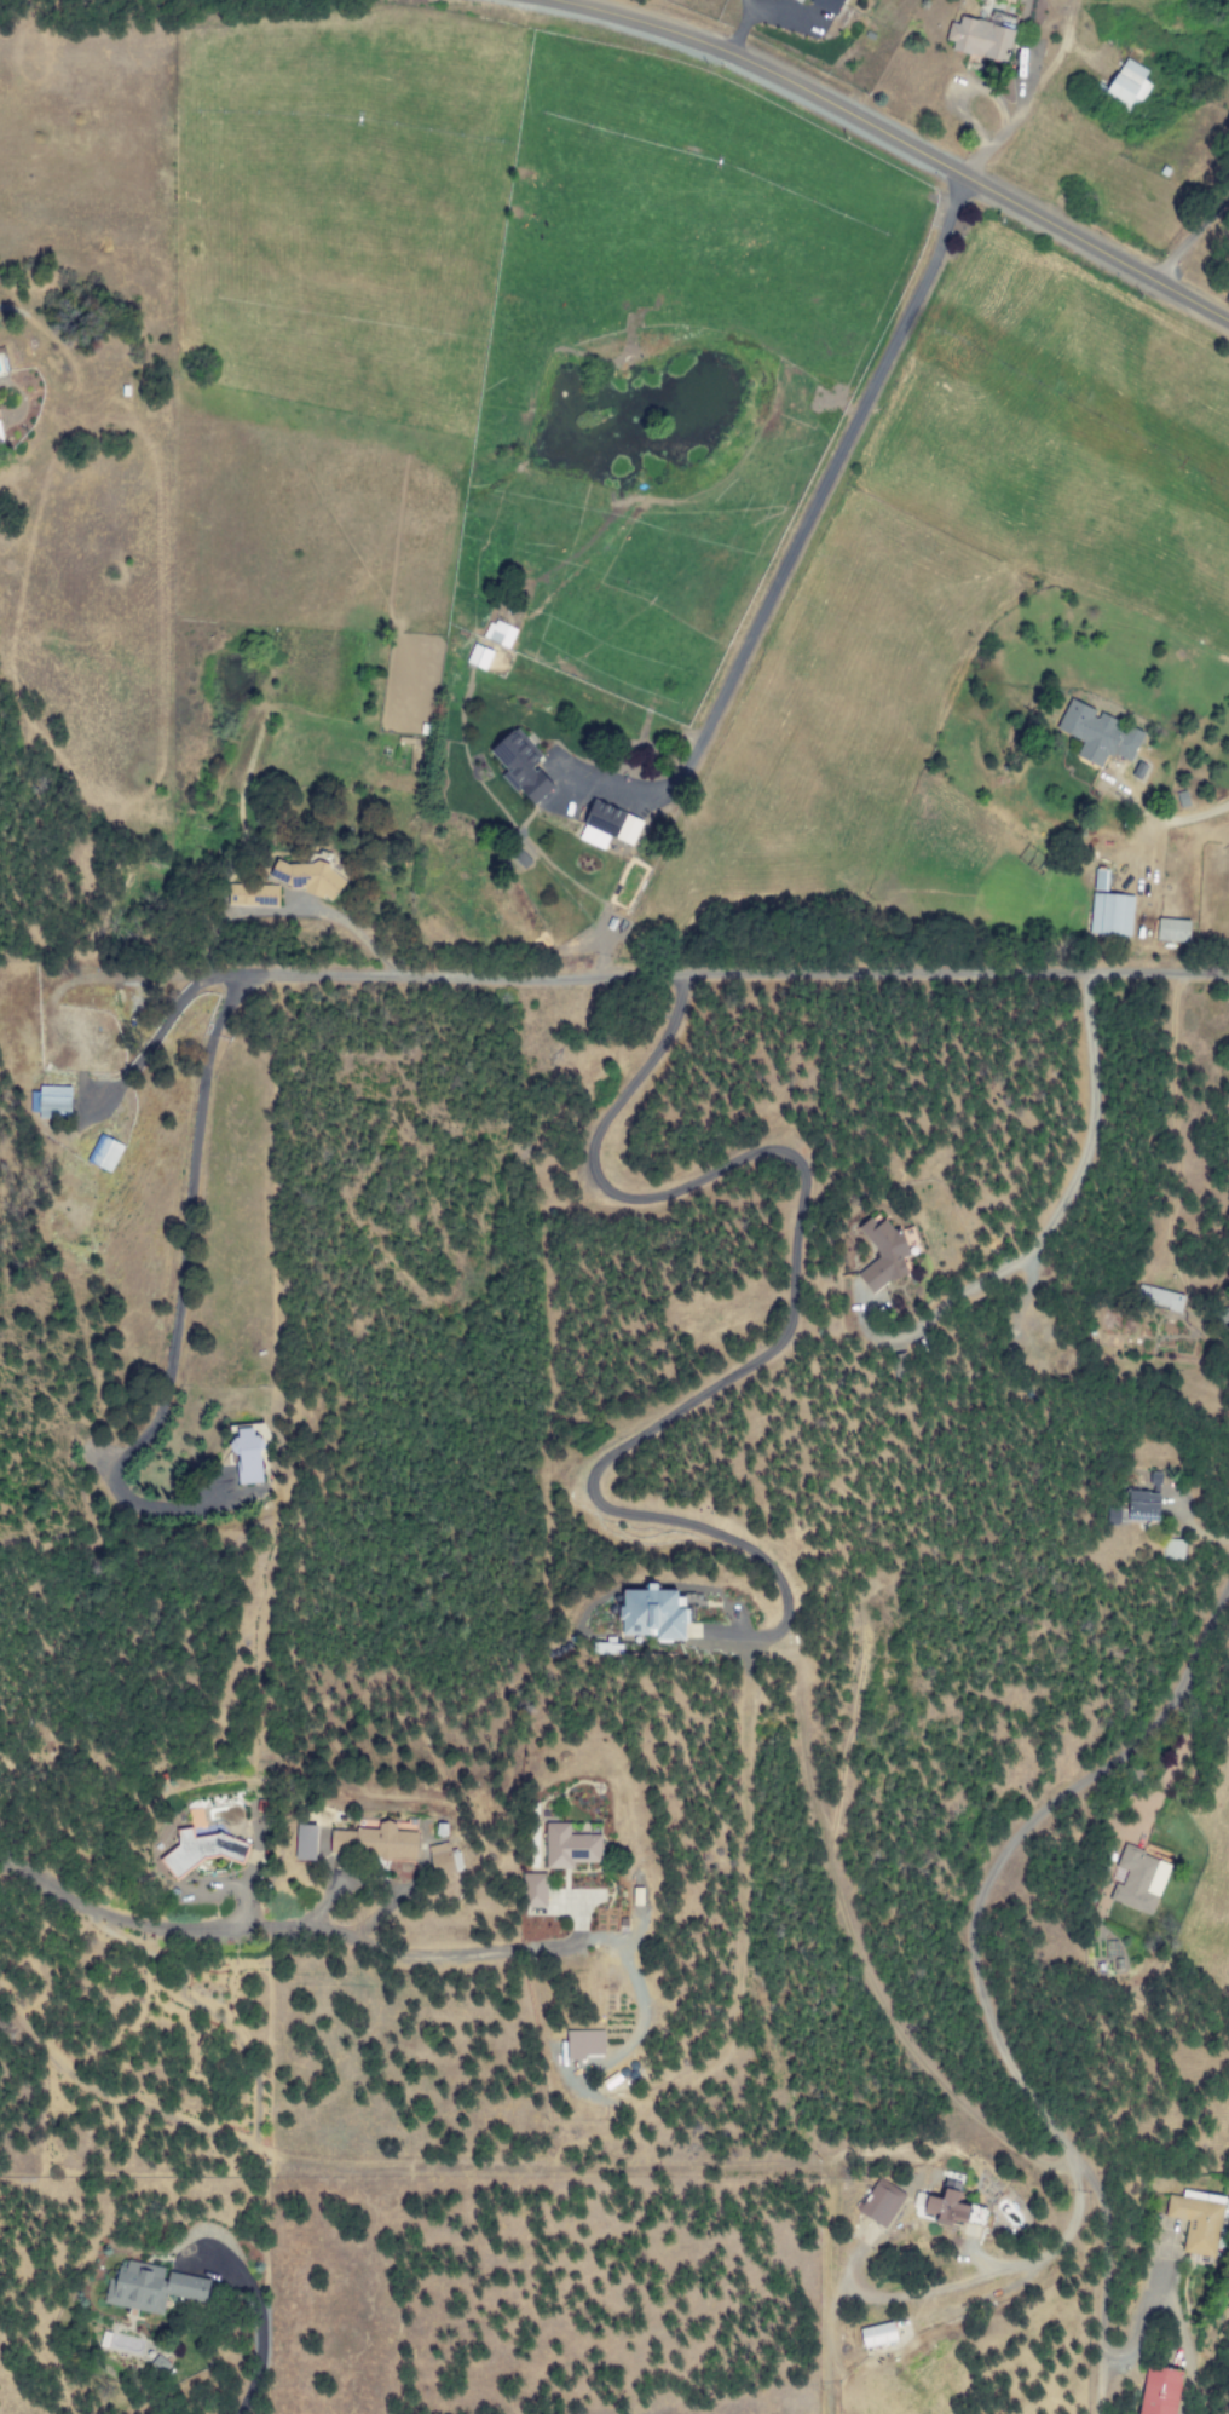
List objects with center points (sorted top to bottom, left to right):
building: (826, 5)
building: (979, 39)
road: (1227, 62)
road: (1045, 63)
building: (1127, 83)
road: (900, 142)
road: (985, 146)
building: (1, 434)
road: (803, 519)
building: (500, 633)
building: (480, 657)
building: (1096, 734)
building: (524, 766)
road: (1175, 818)
building: (608, 825)
building: (310, 871)
building: (1098, 880)
building: (254, 895)
building: (1109, 914)
road: (353, 928)
building: (1171, 931)
road: (735, 972)
building: (52, 1102)
building: (104, 1153)
building: (882, 1254)
road: (174, 1298)
road: (790, 1302)
building: (253, 1453)
building: (1142, 1503)
building: (1172, 1549)
building: (662, 1612)
building: (316, 1839)
building: (385, 1839)
road: (1004, 1843)
building: (582, 1844)
building: (209, 1845)
building: (455, 1857)
building: (1137, 1880)
building: (547, 1888)
building: (593, 2043)
building: (1195, 2223)
building: (155, 2287)
building: (1158, 2391)

